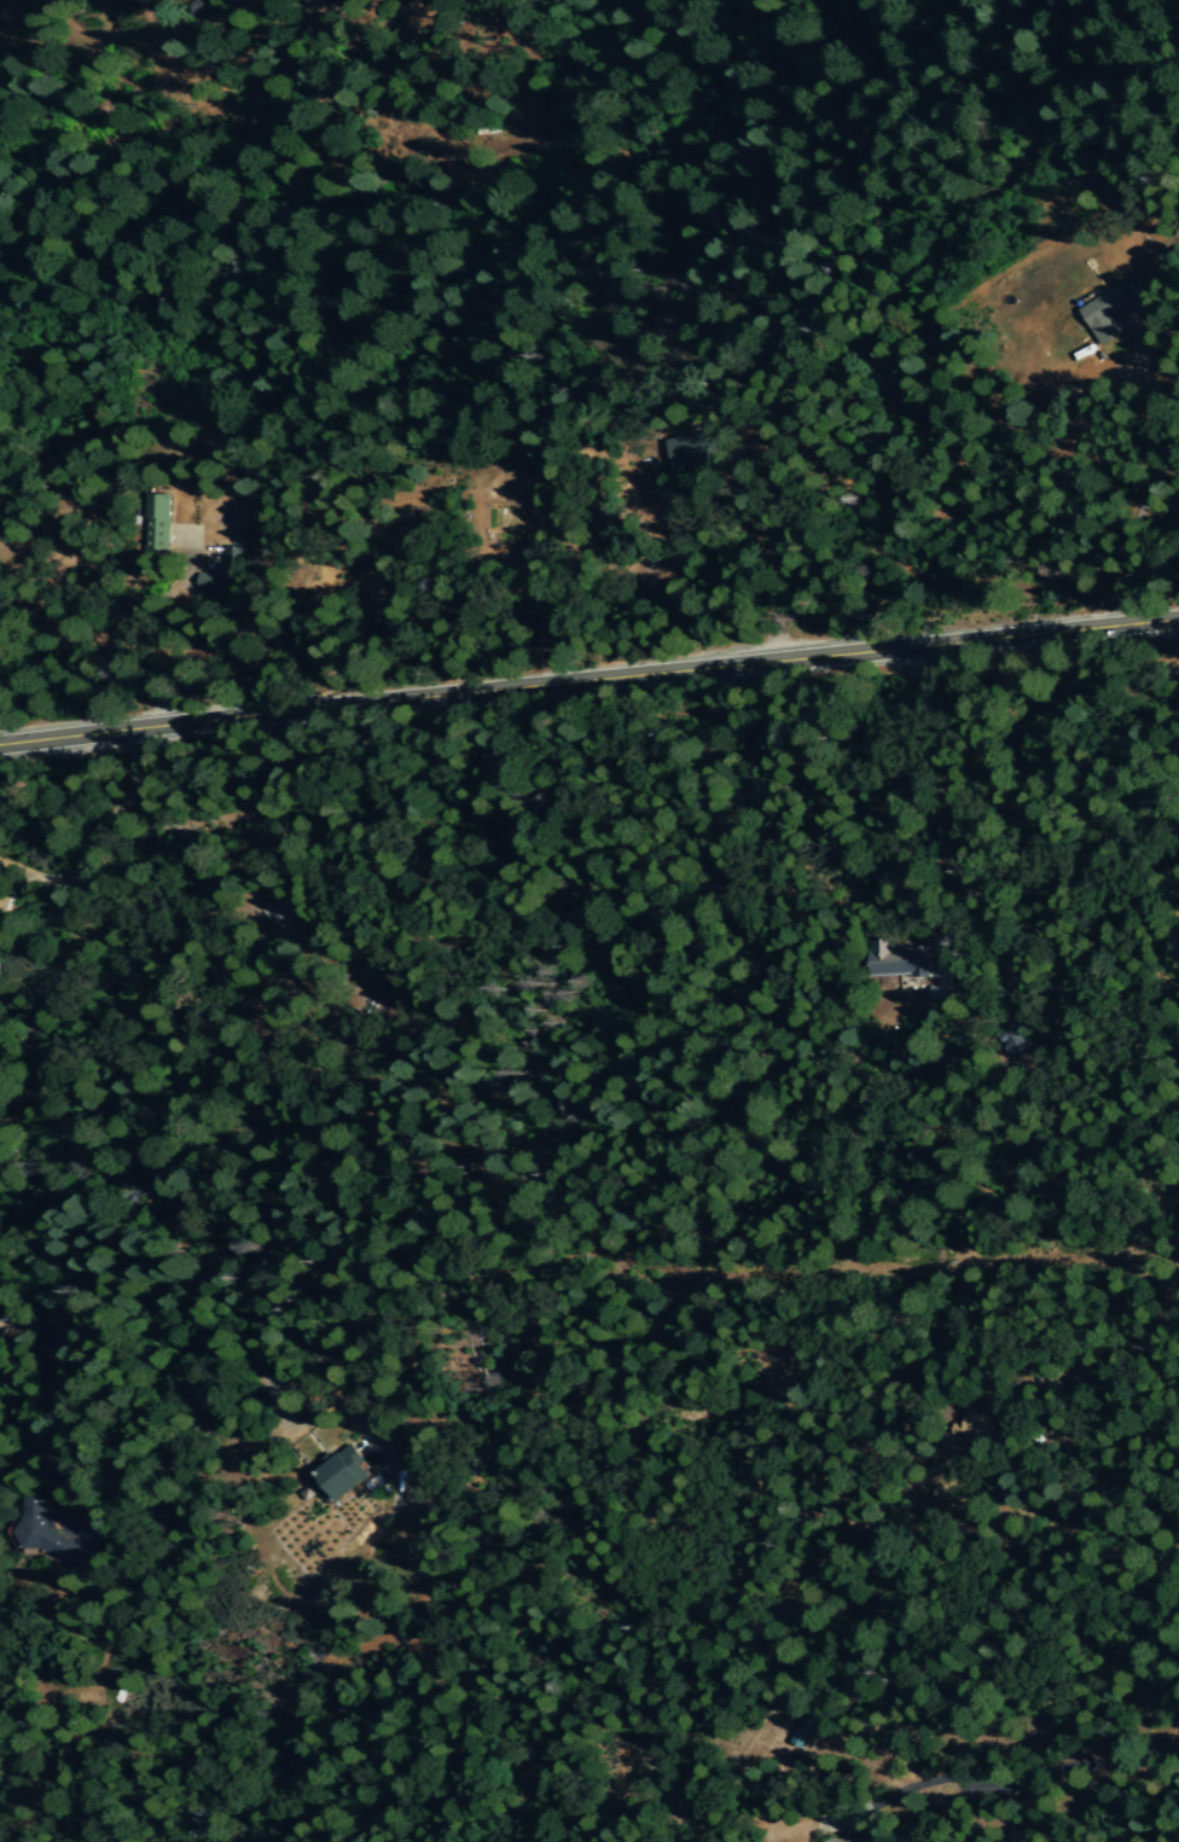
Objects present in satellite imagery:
building: (1098, 314)
building: (696, 449)
road: (1155, 484)
road: (779, 573)
building: (225, 574)
road: (149, 624)
road: (588, 679)
road: (663, 708)
road: (191, 850)
road: (1175, 947)
road: (63, 1404)
building: (345, 1472)
building: (43, 1534)
road: (1111, 1772)

